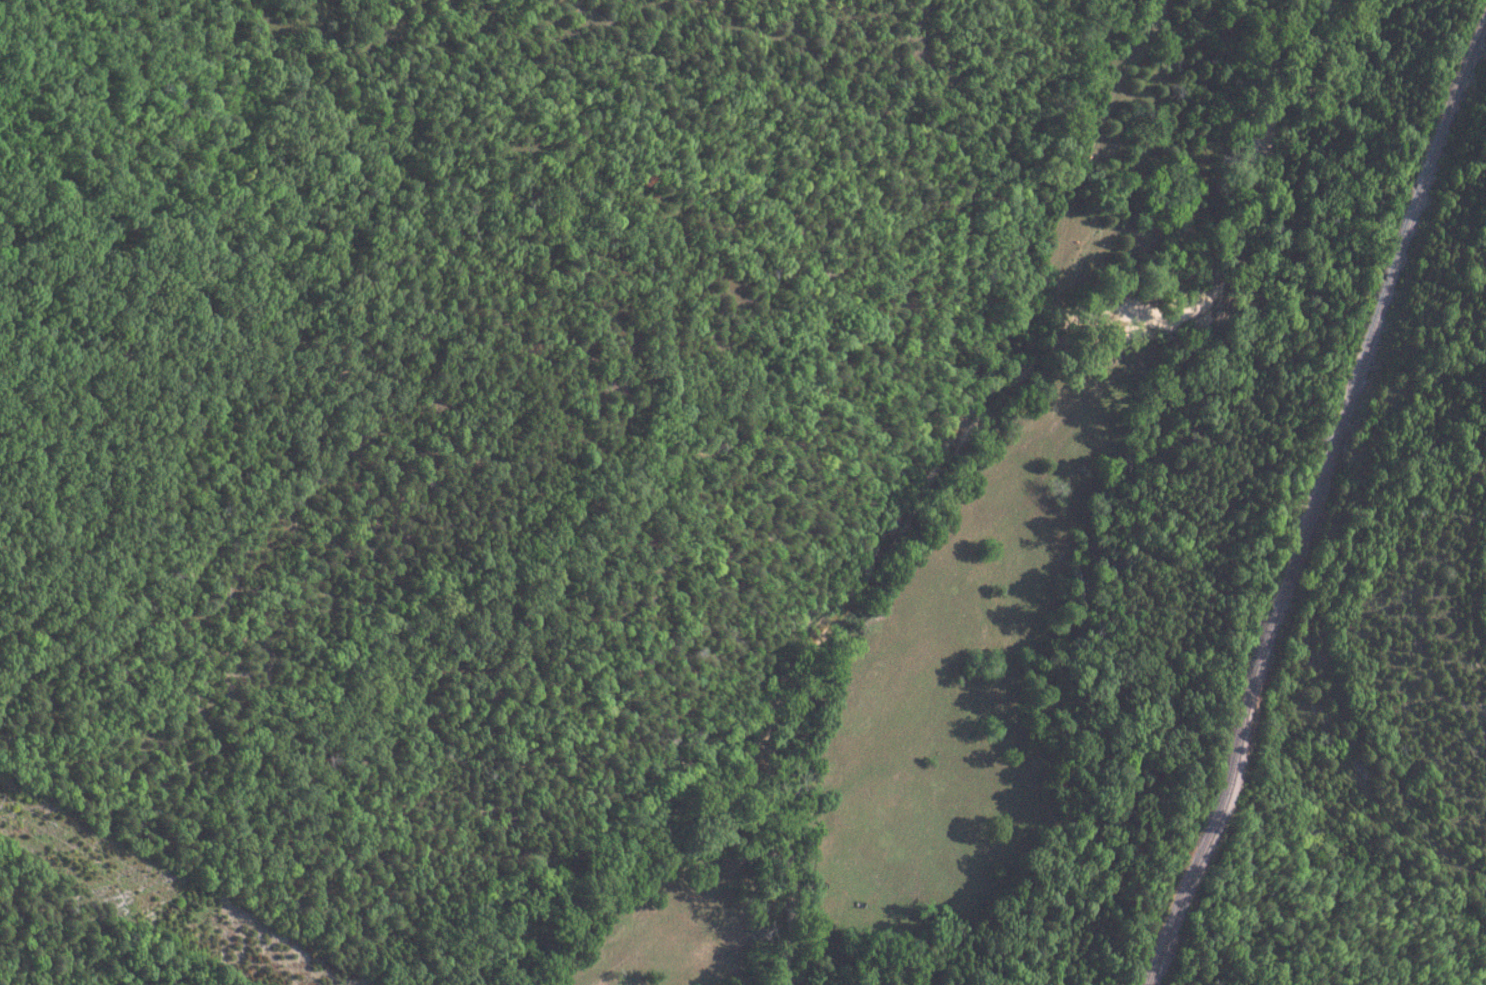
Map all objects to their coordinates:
railway: (1312, 500)

